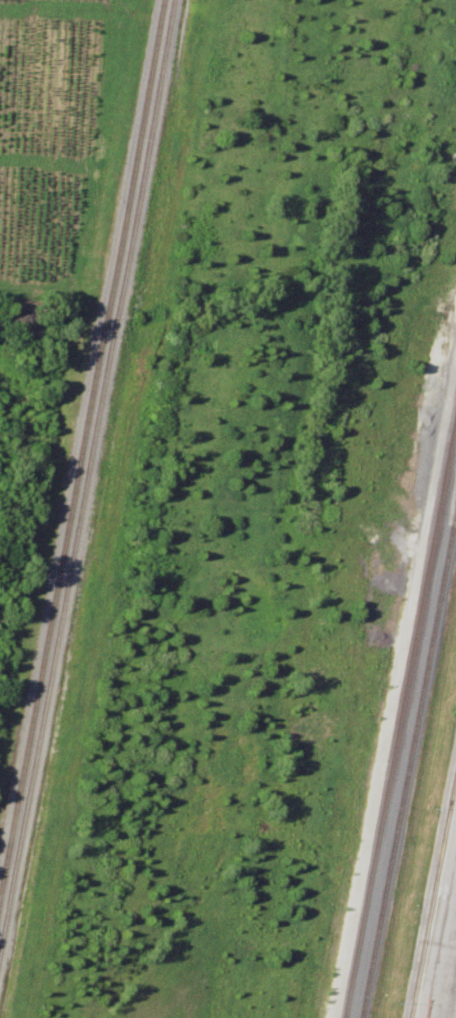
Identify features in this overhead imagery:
railway: (81, 442)
railway: (86, 475)
railway: (409, 759)
railway: (434, 896)

